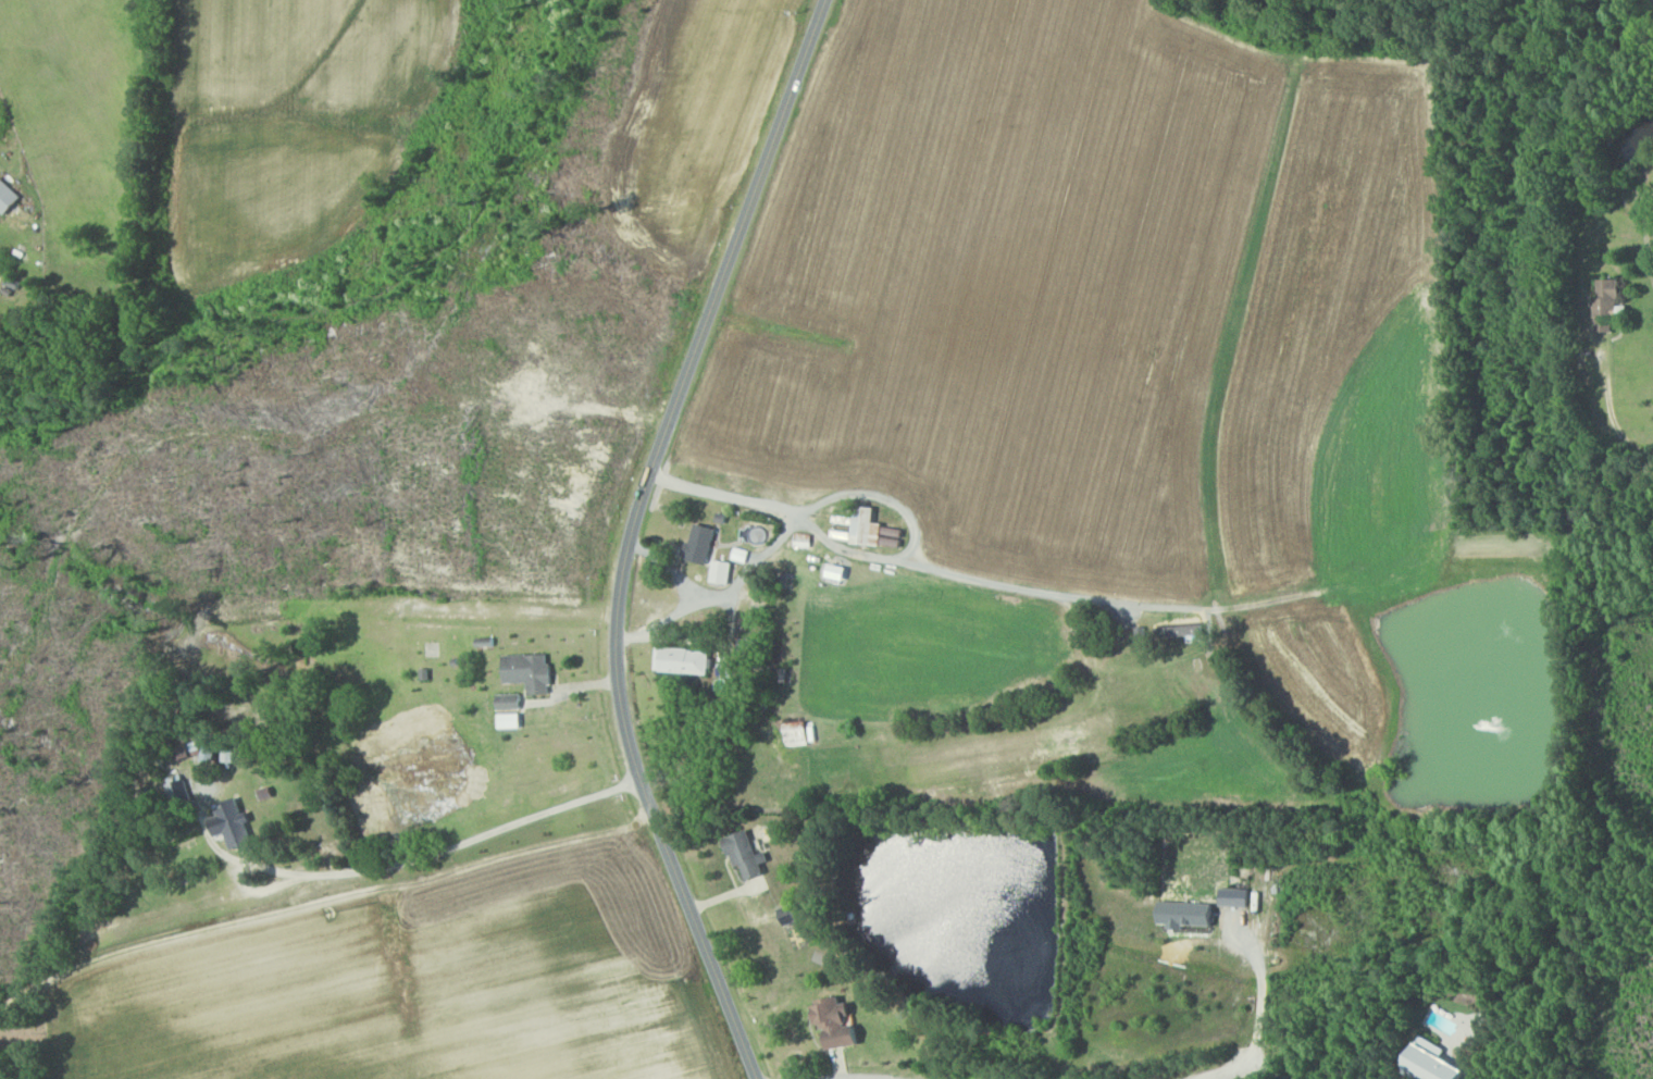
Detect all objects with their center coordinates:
building: (9, 197)
road: (1648, 235)
building: (1609, 298)
road: (1611, 407)
road: (880, 497)
road: (787, 509)
building: (867, 528)
road: (630, 534)
building: (804, 539)
building: (703, 543)
building: (742, 555)
building: (723, 571)
building: (838, 571)
road: (996, 582)
road: (699, 599)
building: (1184, 630)
building: (684, 660)
building: (532, 671)
building: (511, 702)
building: (512, 720)
building: (797, 731)
building: (214, 747)
building: (236, 824)
building: (747, 854)
road: (271, 869)
road: (310, 884)
building: (1235, 896)
building: (791, 913)
building: (1188, 914)
road: (1263, 984)
building: (837, 1021)
building: (1437, 1062)
road: (1269, 1068)
road: (1219, 1070)
road: (1226, 1074)
road: (1472, 1078)

